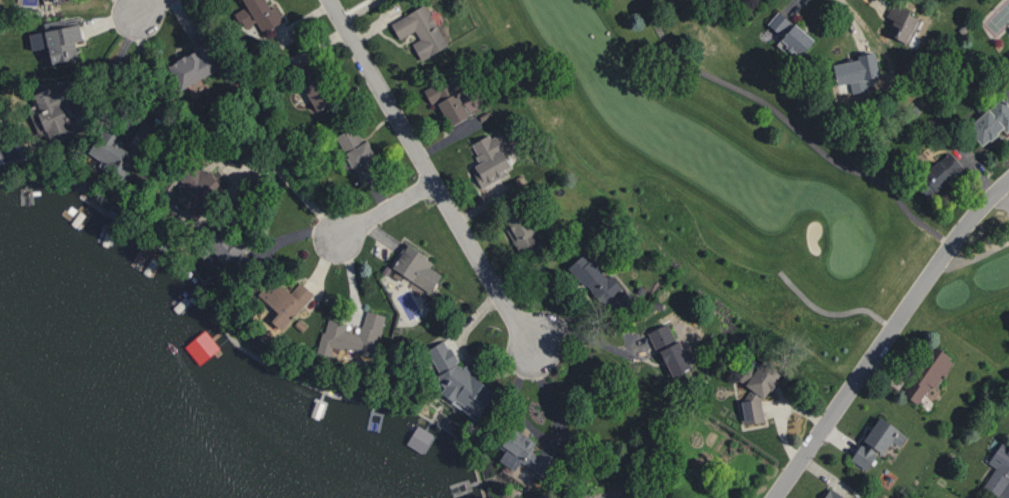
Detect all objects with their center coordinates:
building: (750, 0)
building: (53, 1)
road: (148, 6)
building: (259, 14)
building: (902, 22)
building: (420, 30)
building: (790, 33)
building: (57, 41)
building: (192, 65)
building: (856, 67)
road: (114, 68)
building: (307, 71)
building: (318, 92)
building: (453, 97)
building: (56, 110)
building: (990, 121)
building: (120, 149)
building: (357, 152)
building: (496, 154)
park: (806, 168)
road: (429, 174)
building: (939, 174)
road: (290, 181)
building: (197, 187)
road: (1002, 200)
road: (388, 209)
road: (910, 212)
building: (523, 227)
building: (224, 245)
road: (977, 255)
building: (415, 266)
building: (595, 277)
building: (287, 301)
road: (829, 311)
building: (351, 335)
road: (887, 335)
road: (593, 341)
building: (669, 349)
building: (925, 374)
building: (459, 380)
building: (757, 391)
building: (419, 438)
building: (876, 441)
building: (524, 452)
building: (998, 469)
building: (833, 494)

